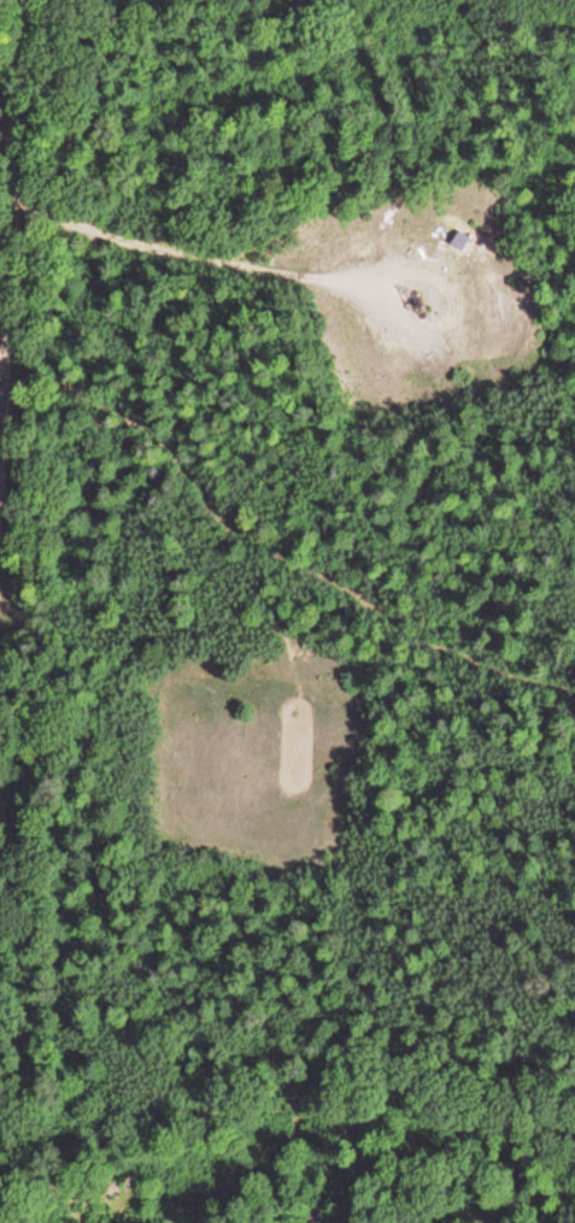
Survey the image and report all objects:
road: (16, 213)
road: (187, 252)
petroleum well: (416, 299)

